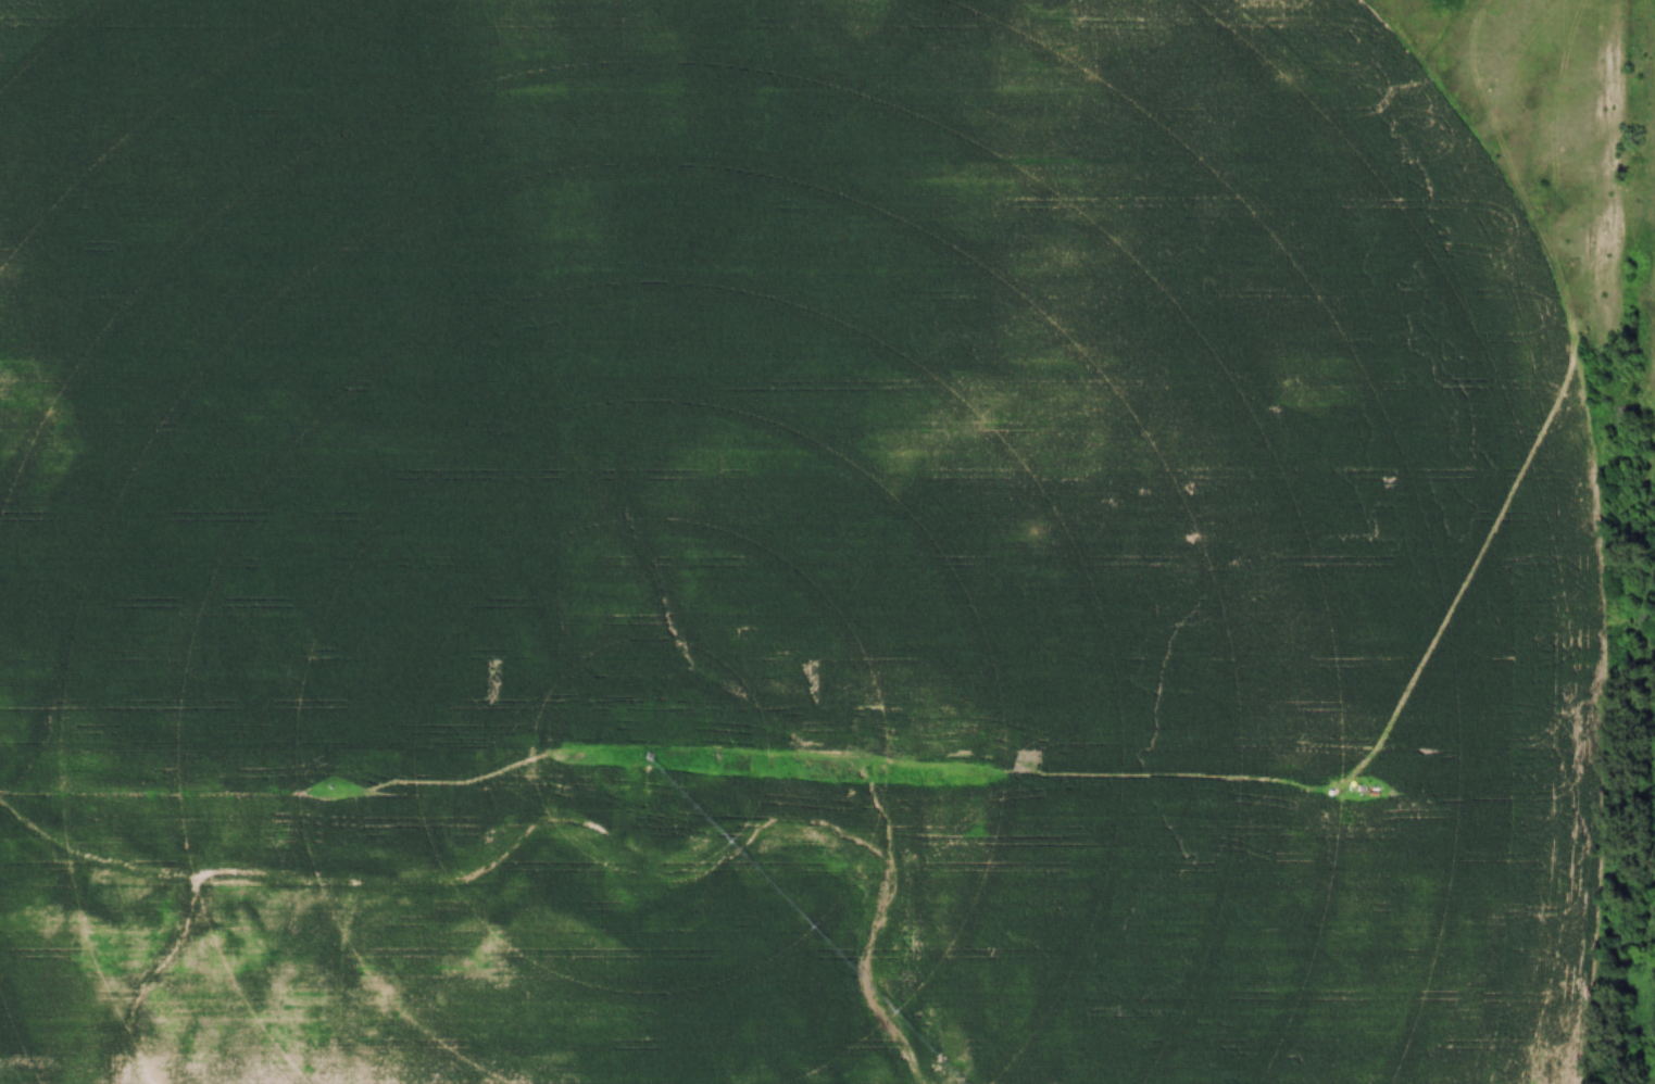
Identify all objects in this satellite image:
road: (1640, 542)

